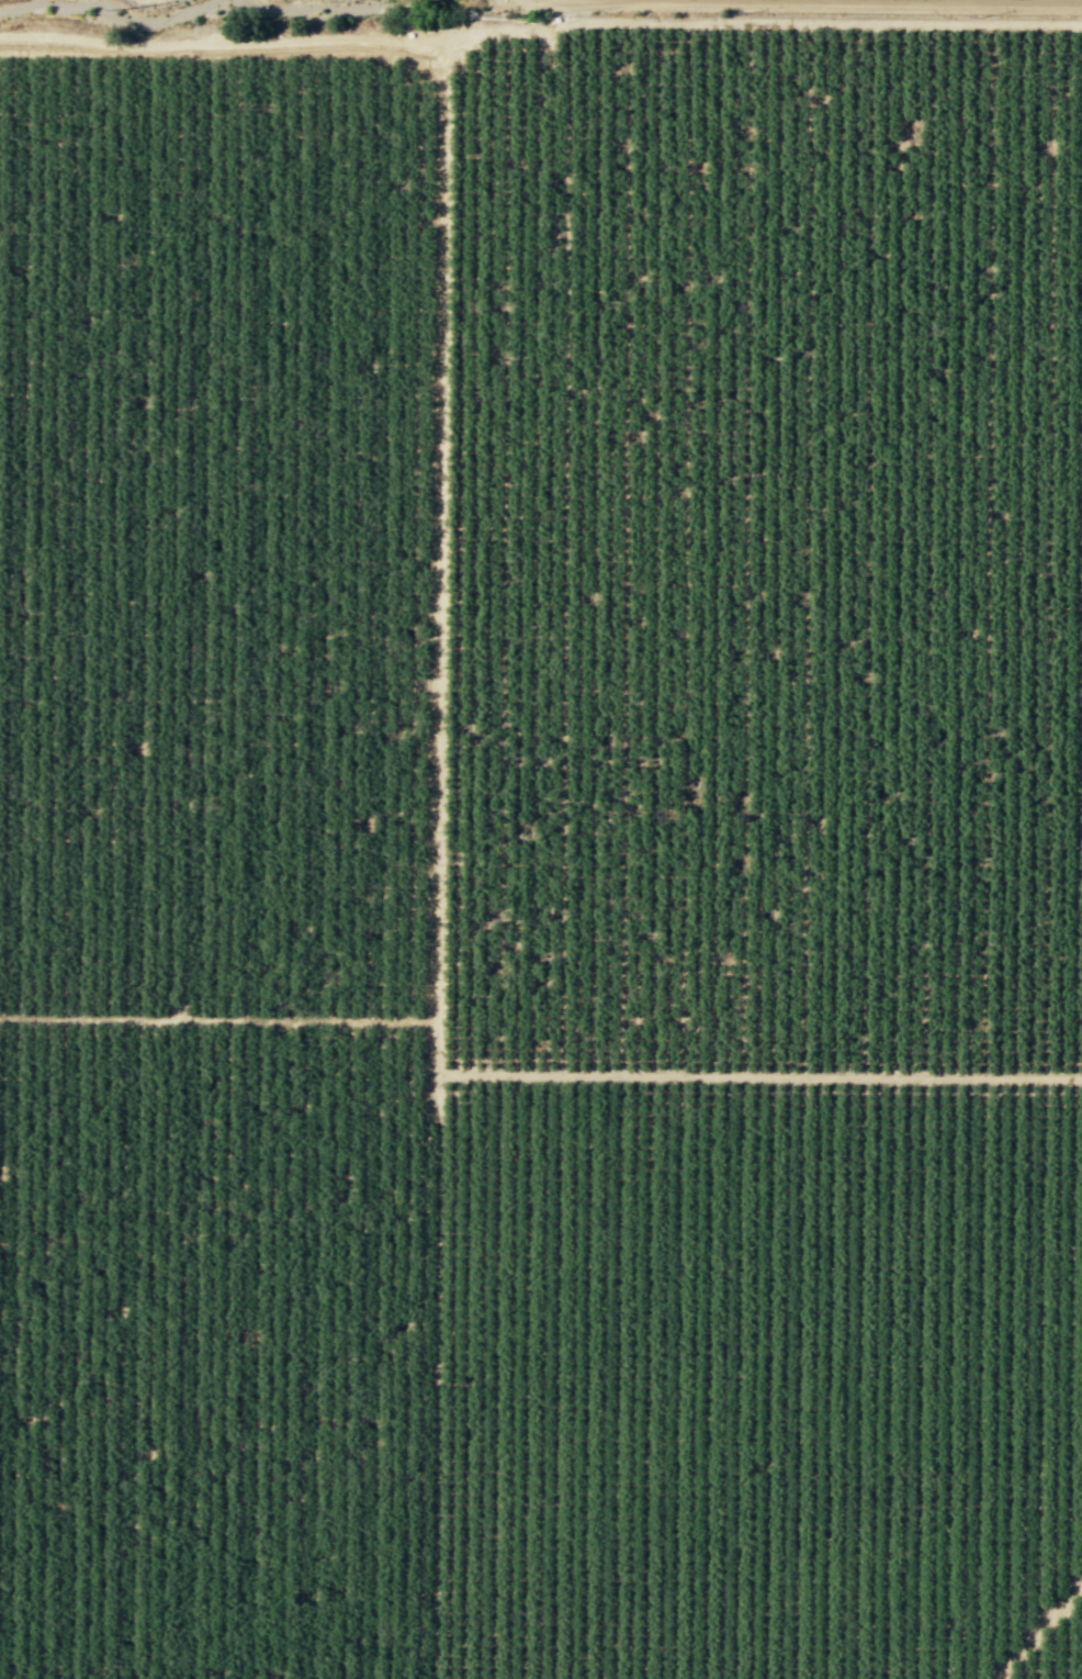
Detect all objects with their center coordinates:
road: (820, 3)
road: (760, 24)
road: (221, 42)
road: (439, 577)
road: (218, 1019)
road: (759, 1076)
road: (1037, 1632)

